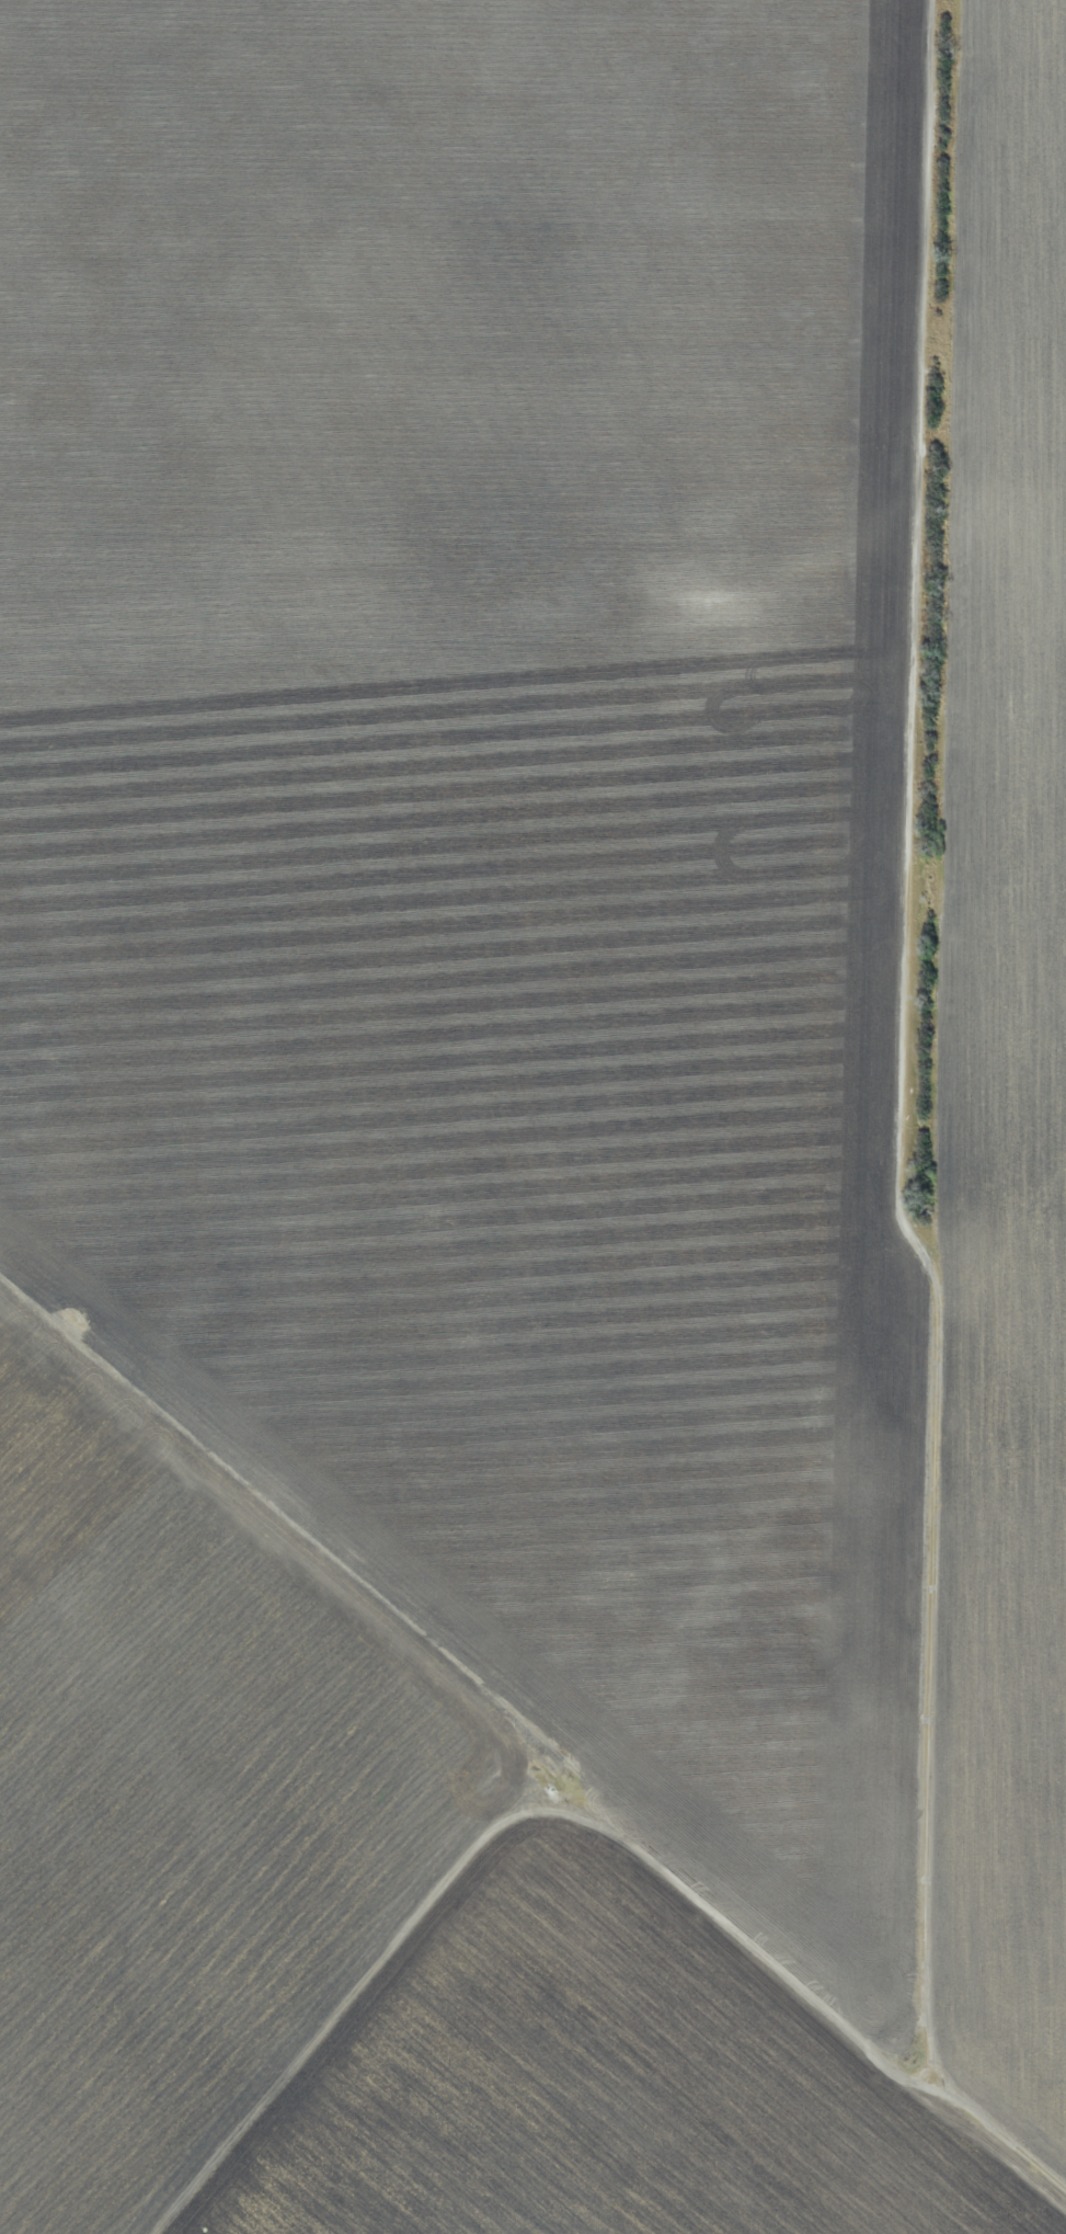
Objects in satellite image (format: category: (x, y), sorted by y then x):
road: (833, 1988)
road: (348, 2003)

